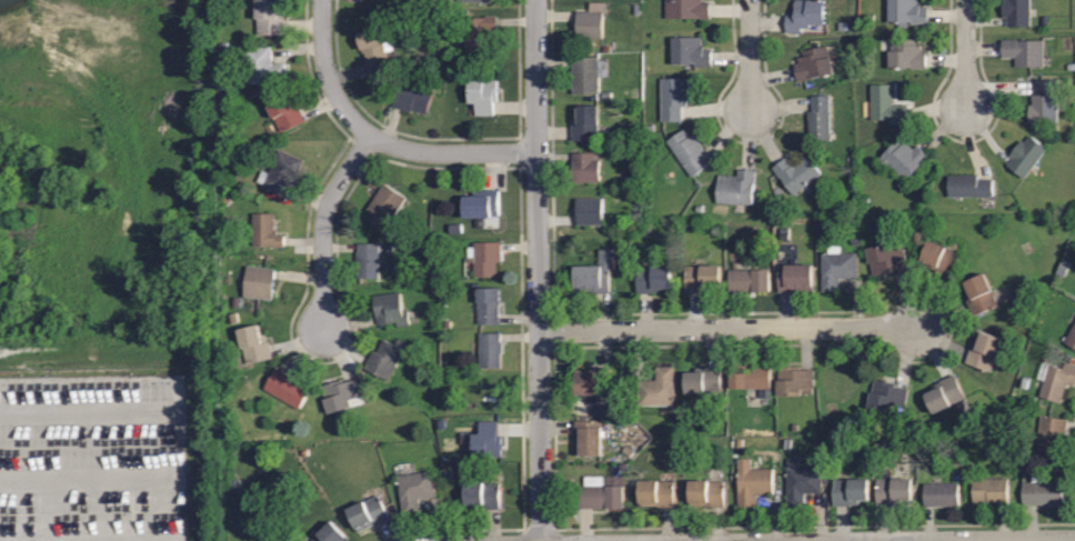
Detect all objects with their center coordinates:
building: (476, 0)
building: (375, 3)
building: (689, 8)
building: (908, 10)
building: (1014, 12)
building: (805, 14)
building: (269, 17)
building: (591, 23)
building: (478, 32)
building: (375, 50)
building: (692, 50)
building: (1025, 50)
building: (908, 52)
road: (964, 53)
road: (749, 54)
building: (814, 63)
building: (264, 66)
building: (587, 76)
building: (413, 96)
building: (482, 96)
building: (674, 99)
building: (886, 103)
building: (1042, 103)
building: (284, 111)
building: (821, 119)
building: (585, 123)
road: (378, 140)
building: (689, 152)
building: (1024, 157)
building: (902, 159)
building: (584, 167)
building: (281, 173)
building: (796, 173)
building: (735, 188)
building: (969, 188)
building: (481, 203)
building: (382, 207)
building: (589, 211)
road: (321, 226)
building: (264, 230)
building: (484, 258)
building: (884, 258)
building: (941, 259)
building: (366, 260)
building: (836, 267)
road: (537, 270)
building: (594, 273)
building: (701, 278)
building: (794, 278)
building: (653, 279)
building: (749, 280)
building: (258, 282)
building: (978, 293)
building: (488, 304)
building: (389, 309)
road: (727, 328)
building: (1071, 335)
building: (253, 343)
building: (489, 350)
building: (983, 350)
building: (383, 359)
building: (751, 377)
building: (592, 380)
building: (703, 380)
building: (794, 380)
building: (1057, 381)
building: (285, 388)
building: (656, 388)
building: (340, 393)
building: (944, 393)
building: (886, 394)
building: (604, 410)
building: (1049, 432)
building: (589, 438)
building: (486, 441)
building: (751, 482)
building: (801, 482)
building: (892, 489)
building: (413, 490)
building: (848, 490)
building: (988, 490)
building: (1041, 491)
building: (601, 492)
building: (706, 492)
building: (655, 493)
building: (482, 494)
building: (940, 494)
building: (368, 513)
building: (331, 533)
road: (961, 539)

